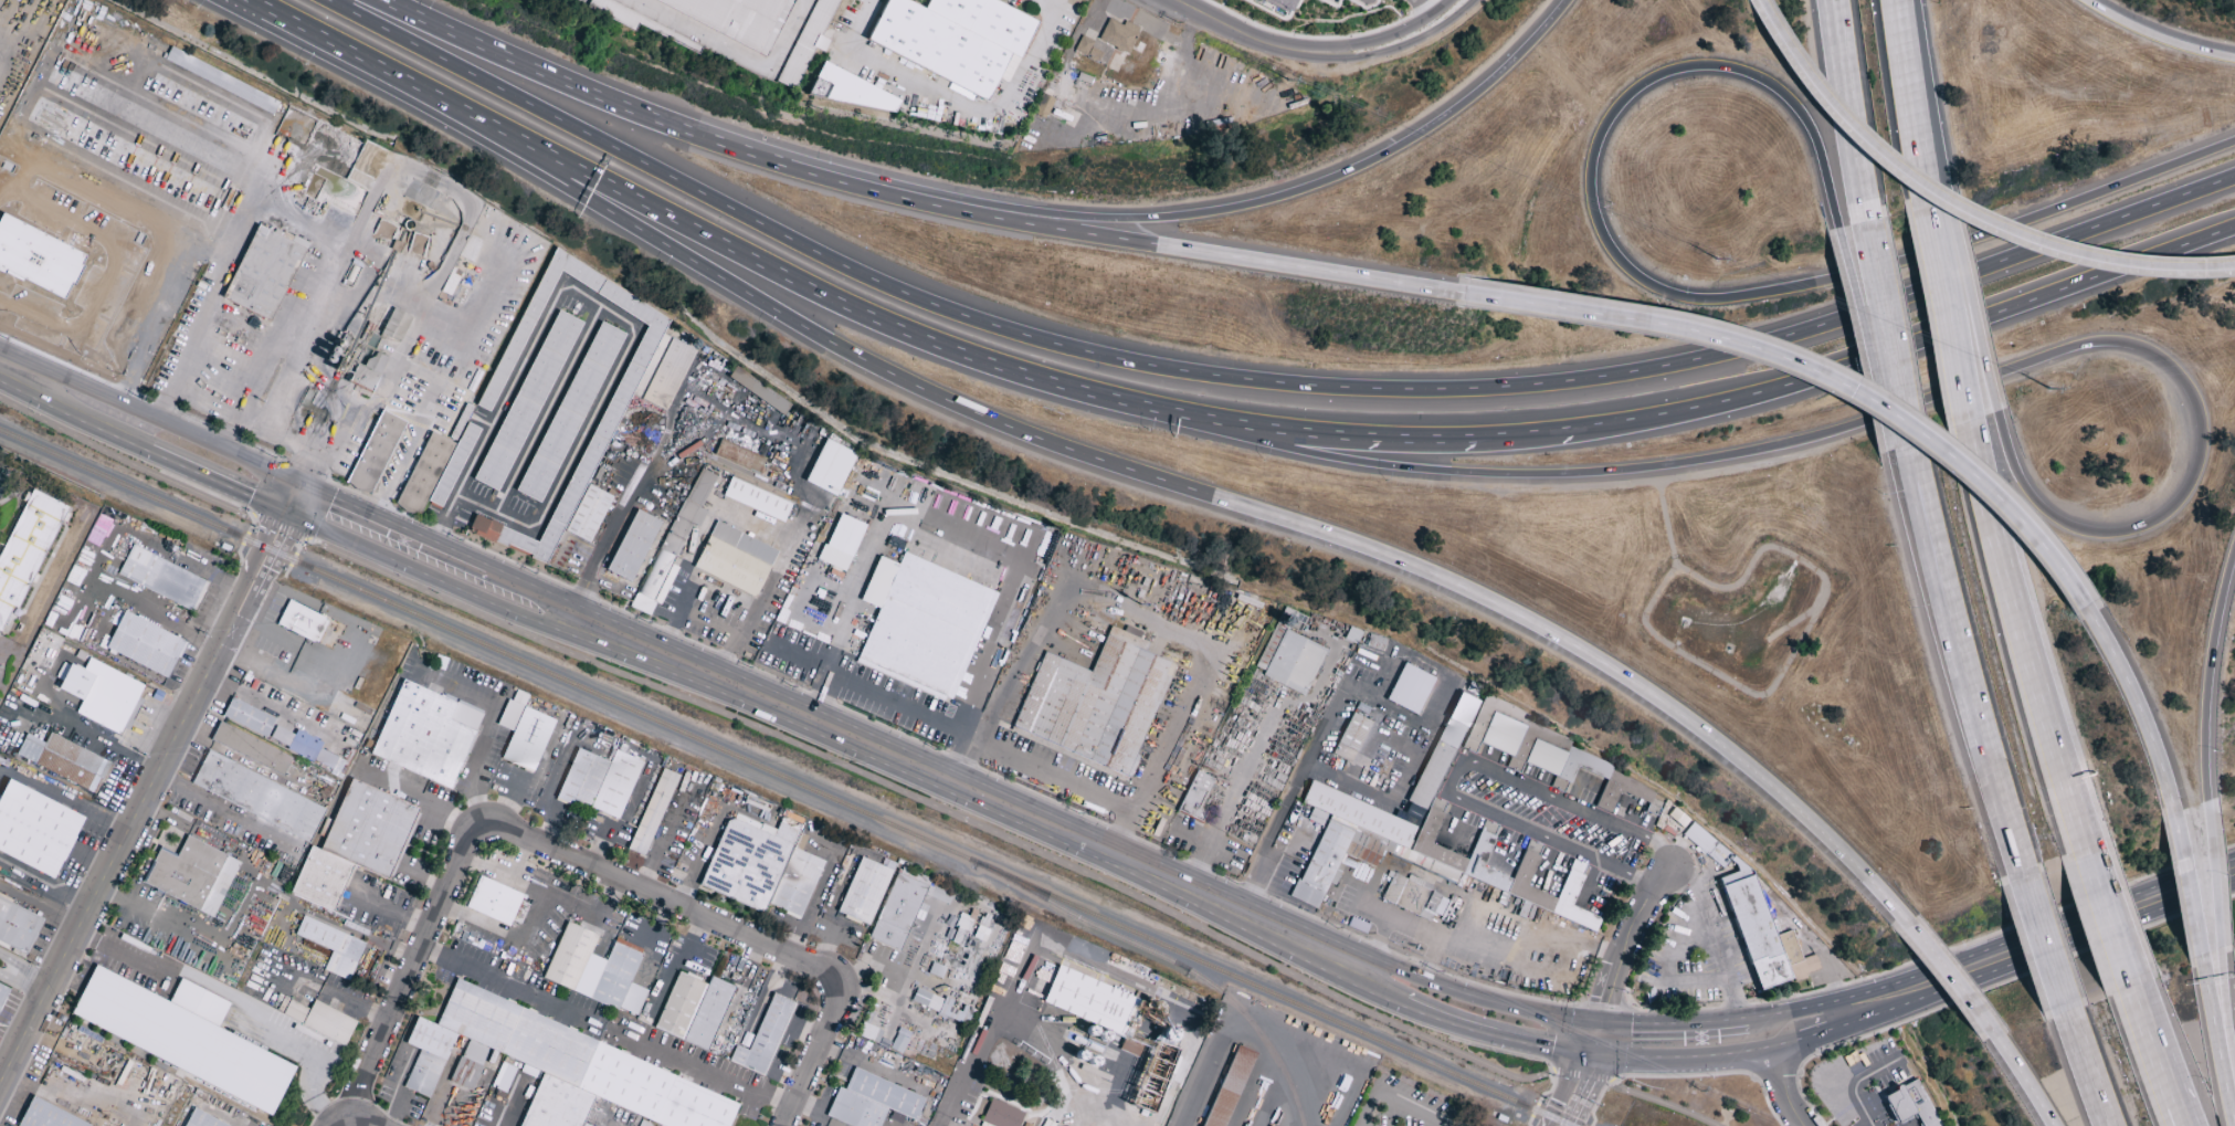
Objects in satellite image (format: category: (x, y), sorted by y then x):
building: (1266, 0)
building: (1295, 0)
road: (1425, 10)
road: (1445, 10)
building: (624, 15)
building: (734, 18)
building: (1117, 35)
building: (953, 38)
road: (2155, 39)
building: (809, 41)
road: (736, 52)
building: (1089, 52)
road: (1296, 52)
road: (383, 71)
road: (551, 77)
building: (221, 81)
building: (854, 92)
road: (1907, 98)
road: (957, 102)
building: (1042, 106)
road: (1233, 113)
road: (1851, 115)
road: (1955, 208)
road: (1179, 217)
road: (1929, 225)
road: (1088, 235)
building: (38, 259)
building: (262, 273)
road: (1681, 297)
road: (835, 302)
road: (1855, 303)
road: (152, 309)
road: (612, 313)
building: (394, 325)
road: (1976, 328)
road: (197, 332)
road: (1890, 338)
road: (1952, 338)
road: (1866, 358)
road: (8, 364)
road: (415, 368)
building: (667, 375)
road: (1811, 376)
building: (361, 378)
road: (1259, 381)
road: (240, 383)
building: (758, 391)
building: (527, 401)
road: (548, 410)
building: (612, 410)
building: (569, 412)
road: (1877, 415)
road: (76, 418)
road: (166, 419)
road: (1233, 421)
road: (274, 432)
road: (1389, 434)
building: (375, 452)
building: (738, 456)
building: (829, 467)
building: (434, 471)
road: (305, 473)
traffic signals: (293, 476)
road: (222, 484)
traffic signals: (310, 485)
building: (699, 487)
road: (2, 490)
building: (756, 499)
road: (1234, 504)
road: (277, 512)
road: (1664, 518)
road: (294, 519)
road: (399, 525)
building: (841, 543)
road: (601, 546)
building: (632, 546)
building: (25, 549)
building: (667, 557)
building: (735, 559)
road: (779, 564)
road: (424, 575)
road: (213, 576)
building: (161, 578)
road: (528, 580)
road: (239, 588)
road: (255, 594)
road: (716, 610)
building: (302, 622)
road: (1794, 622)
building: (921, 624)
road: (271, 633)
road: (2024, 641)
building: (145, 644)
building: (1293, 662)
road: (1702, 665)
road: (1962, 665)
road: (2208, 675)
building: (1409, 688)
building: (99, 694)
building: (1096, 702)
road: (2139, 709)
building: (508, 715)
building: (247, 717)
building: (425, 734)
road: (1324, 734)
building: (1350, 737)
building: (527, 739)
road: (983, 739)
building: (304, 747)
building: (250, 748)
road: (110, 749)
building: (1442, 751)
building: (1545, 753)
building: (63, 760)
road: (960, 760)
road: (1452, 771)
road: (858, 772)
road: (919, 774)
railway: (784, 778)
building: (598, 782)
building: (257, 797)
building: (1195, 797)
road: (1391, 801)
road: (226, 810)
building: (652, 812)
road: (1549, 817)
road: (1096, 824)
building: (35, 829)
building: (354, 844)
building: (1449, 852)
road: (117, 859)
building: (1329, 862)
building: (761, 867)
building: (192, 875)
road: (2216, 875)
road: (2190, 887)
building: (863, 891)
building: (1405, 893)
road: (662, 898)
building: (493, 901)
building: (1434, 904)
road: (42, 907)
road: (393, 911)
building: (898, 912)
building: (1753, 922)
road: (2111, 922)
building: (18, 926)
building: (1779, 926)
road: (1711, 935)
road: (2053, 946)
building: (331, 947)
road: (2047, 947)
railway: (1168, 959)
road: (413, 966)
road: (1345, 966)
road: (10, 967)
building: (594, 970)
building: (935, 970)
road: (1955, 979)
road: (31, 980)
road: (1441, 983)
road: (1983, 991)
building: (2, 993)
road: (1609, 997)
building: (935, 1004)
road: (1809, 1008)
building: (693, 1010)
building: (317, 1019)
road: (2228, 1020)
road: (1673, 1024)
building: (1118, 1025)
traffic signals: (1599, 1028)
road: (1836, 1028)
road: (608, 1030)
road: (1494, 1031)
building: (868, 1033)
road: (2218, 1034)
building: (181, 1035)
road: (985, 1035)
building: (763, 1038)
road: (2151, 1039)
road: (822, 1045)
road: (1789, 1050)
building: (426, 1055)
road: (1679, 1057)
building: (577, 1070)
road: (2089, 1070)
building: (502, 1077)
road: (2024, 1081)
building: (1226, 1086)
road: (1784, 1092)
road: (1393, 1101)
building: (871, 1102)
building: (1909, 1104)
road: (2176, 1108)
building: (1001, 1115)
building: (46, 1116)
building: (200, 1119)
road: (351, 1122)

